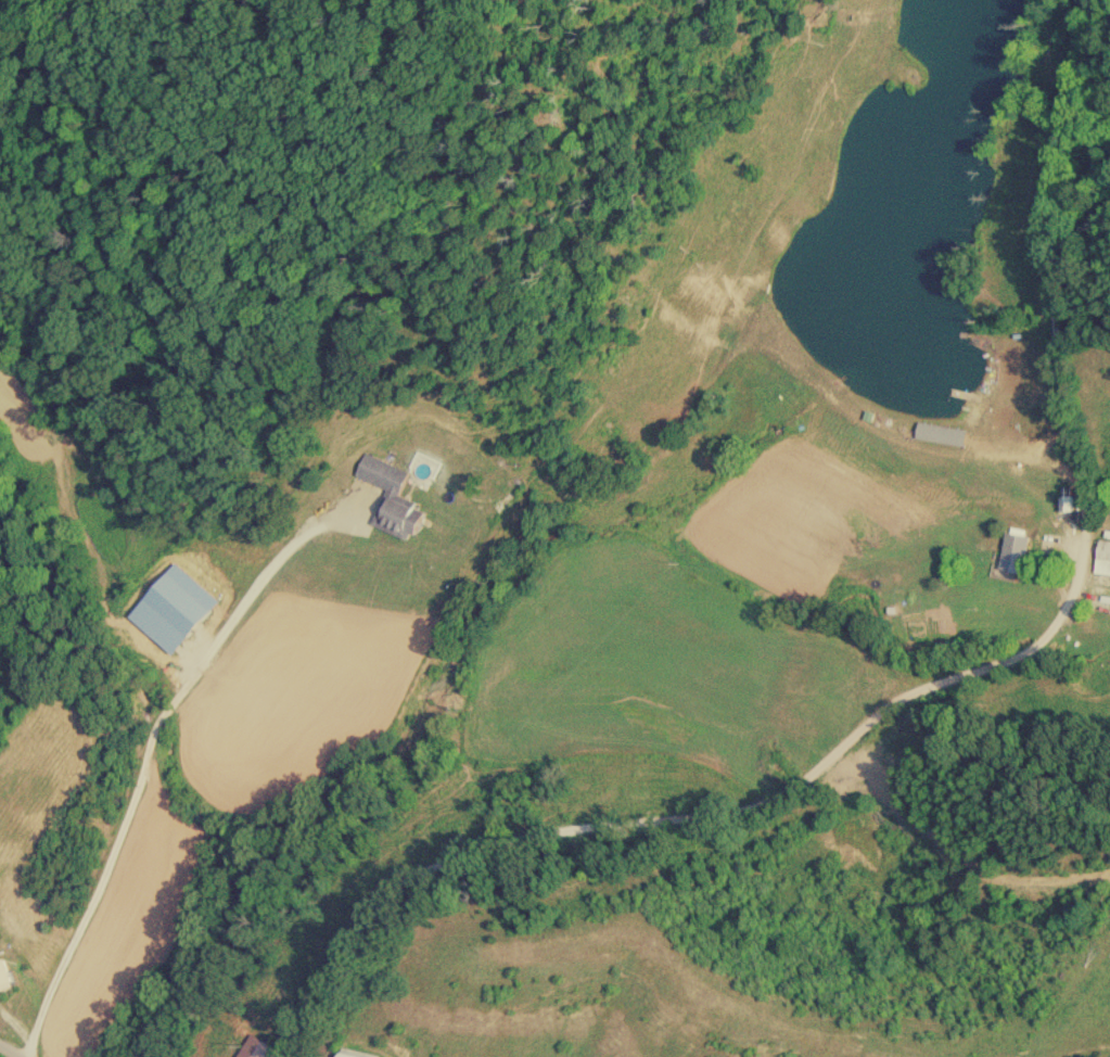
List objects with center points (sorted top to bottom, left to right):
road: (931, 708)
road: (148, 747)
road: (16, 1024)
road: (5, 1053)

